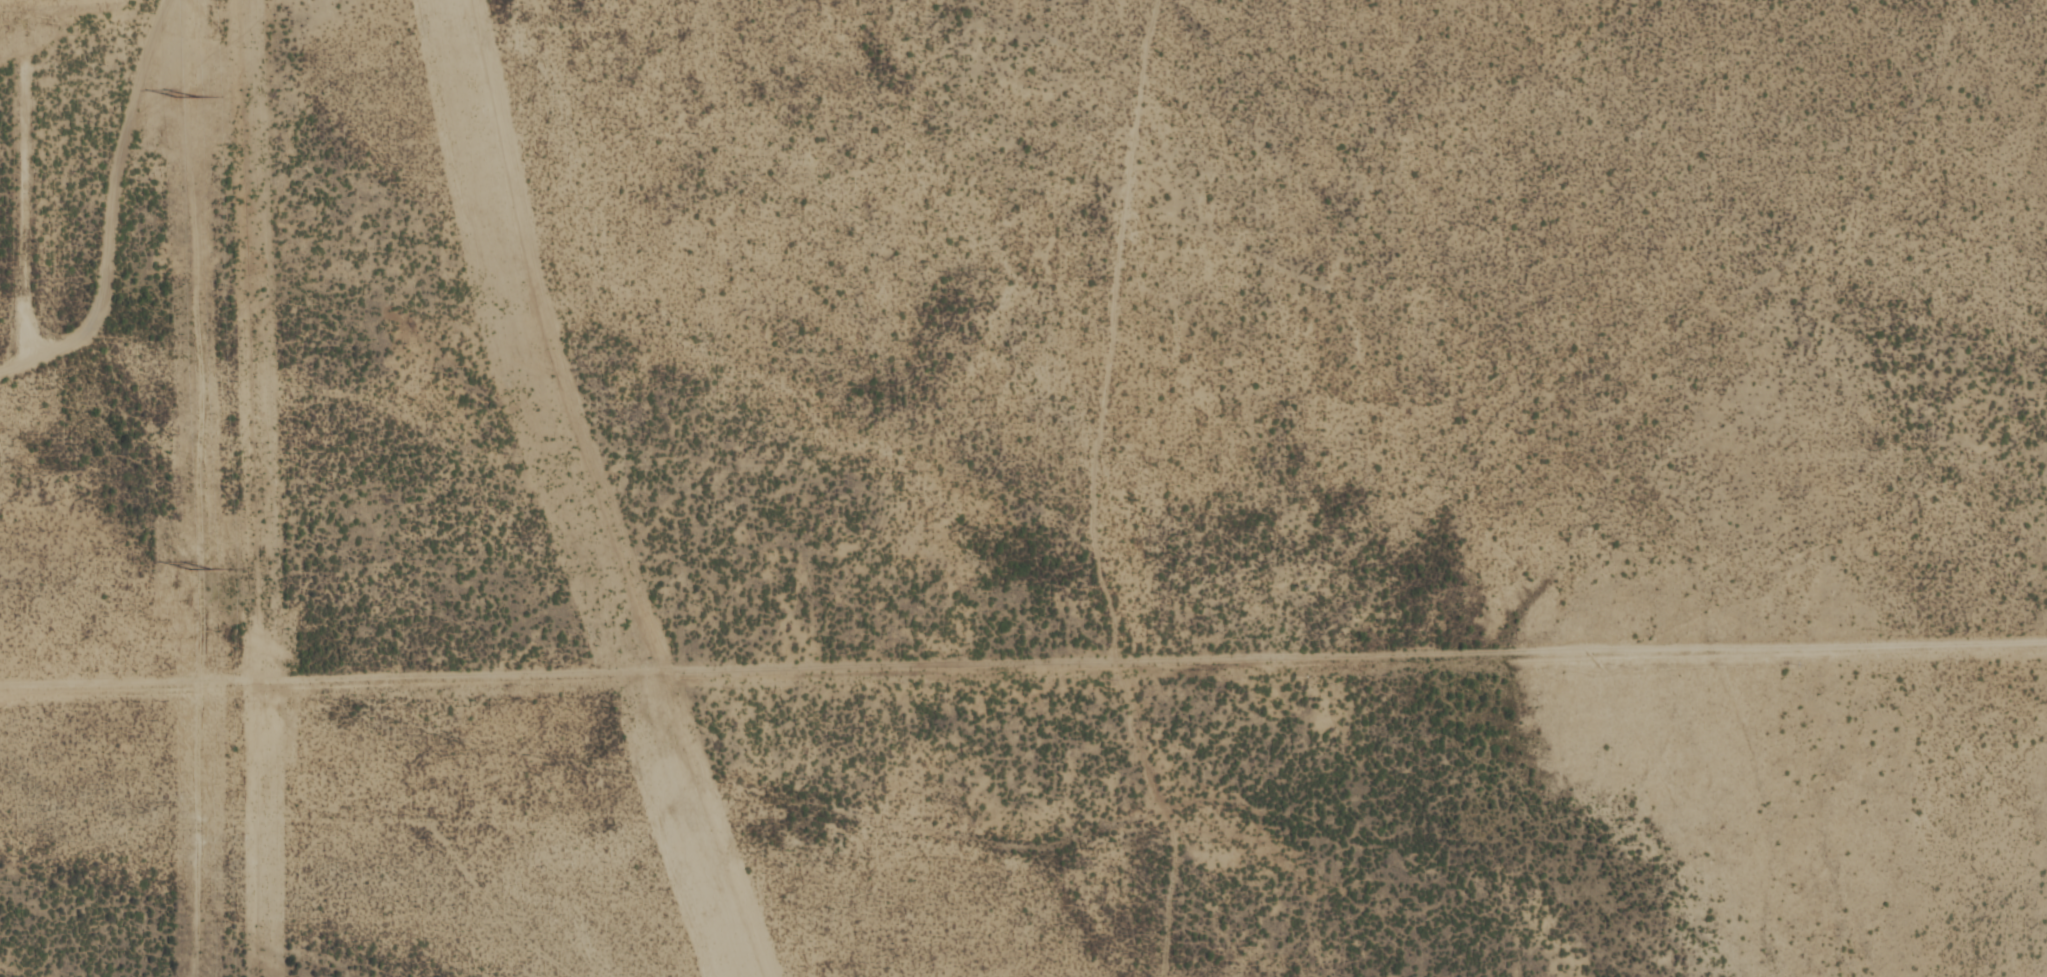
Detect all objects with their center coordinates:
power tower: (176, 96)
road: (113, 215)
power tower: (191, 565)

